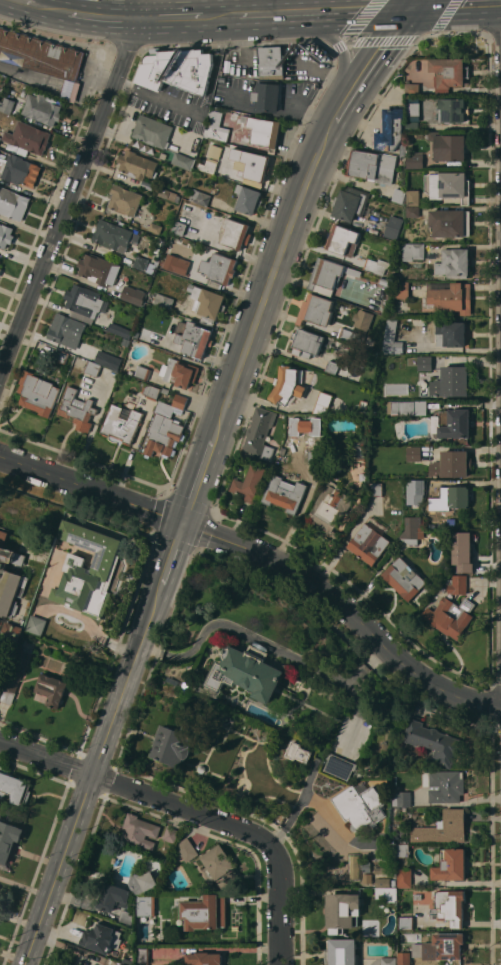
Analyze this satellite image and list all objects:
road: (23, 2)
road: (412, 3)
road: (455, 4)
traffic signals: (410, 7)
road: (47, 8)
road: (324, 11)
road: (221, 16)
road: (101, 17)
road: (172, 18)
road: (339, 47)
building: (42, 57)
building: (271, 61)
road: (370, 63)
building: (177, 69)
building: (449, 73)
building: (0, 86)
building: (413, 88)
building: (267, 95)
building: (7, 104)
building: (43, 107)
building: (413, 108)
building: (453, 110)
road: (202, 111)
building: (412, 125)
building: (245, 130)
building: (390, 130)
building: (153, 131)
building: (28, 137)
building: (0, 138)
building: (449, 146)
building: (0, 149)
building: (403, 149)
building: (183, 160)
building: (415, 160)
building: (252, 164)
building: (137, 165)
building: (208, 166)
building: (373, 166)
building: (21, 170)
road: (73, 184)
building: (449, 186)
building: (168, 194)
building: (399, 195)
building: (200, 197)
building: (413, 197)
building: (248, 199)
building: (125, 200)
building: (13, 203)
building: (350, 203)
building: (412, 211)
building: (451, 223)
building: (179, 227)
building: (394, 227)
building: (155, 228)
building: (235, 234)
building: (5, 235)
building: (112, 235)
building: (343, 240)
building: (413, 251)
building: (0, 261)
building: (454, 263)
building: (144, 264)
building: (177, 264)
building: (376, 266)
building: (220, 268)
building: (99, 269)
building: (0, 270)
road: (271, 273)
building: (326, 275)
building: (384, 281)
building: (402, 289)
building: (133, 295)
building: (449, 297)
building: (83, 300)
building: (163, 301)
building: (207, 303)
building: (316, 310)
building: (363, 319)
building: (120, 329)
building: (66, 330)
building: (450, 331)
building: (351, 336)
building: (392, 336)
building: (193, 338)
building: (306, 342)
building: (61, 355)
building: (109, 361)
building: (425, 363)
building: (332, 367)
building: (93, 368)
building: (143, 372)
building: (180, 372)
building: (452, 382)
building: (288, 385)
building: (150, 390)
building: (165, 390)
building: (38, 393)
building: (323, 401)
building: (363, 404)
building: (407, 408)
building: (78, 409)
building: (122, 423)
building: (363, 424)
building: (453, 424)
building: (166, 428)
building: (260, 433)
building: (361, 448)
building: (414, 453)
building: (315, 457)
building: (284, 458)
building: (452, 464)
building: (281, 466)
road: (198, 475)
building: (250, 483)
building: (418, 487)
building: (376, 489)
building: (285, 494)
building: (455, 497)
building: (330, 508)
traffic signals: (182, 522)
building: (412, 530)
building: (369, 543)
building: (463, 551)
road: (264, 558)
road: (169, 559)
building: (103, 569)
building: (10, 578)
building: (404, 578)
building: (458, 584)
building: (450, 616)
building: (36, 624)
building: (10, 639)
road: (272, 645)
building: (21, 658)
road: (363, 665)
building: (247, 672)
building: (10, 687)
building: (52, 689)
building: (434, 741)
building: (174, 744)
building: (298, 752)
building: (340, 766)
building: (202, 768)
road: (89, 780)
building: (444, 785)
building: (14, 787)
road: (143, 793)
building: (402, 798)
road: (298, 805)
building: (360, 806)
building: (444, 828)
building: (140, 831)
building: (171, 834)
building: (9, 842)
building: (187, 849)
building: (403, 850)
building: (451, 864)
building: (353, 866)
building: (220, 867)
building: (386, 870)
building: (367, 876)
building: (404, 877)
building: (142, 882)
building: (383, 882)
building: (394, 883)
building: (387, 893)
building: (114, 897)
building: (146, 905)
building: (450, 907)
road: (280, 911)
building: (343, 911)
building: (204, 912)
building: (126, 917)
building: (406, 922)
building: (102, 937)
building: (441, 947)
building: (342, 952)
building: (142, 955)
building: (199, 956)
building: (404, 958)
building: (127, 961)
building: (385, 961)
building: (123, 964)

